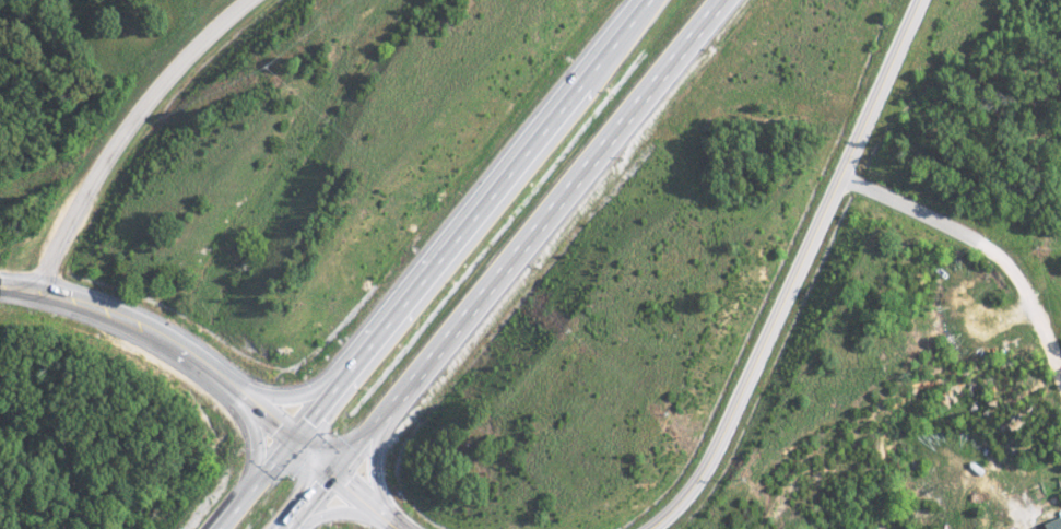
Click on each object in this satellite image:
road: (120, 132)
road: (982, 244)
road: (500, 263)
road: (439, 264)
road: (799, 275)
road: (184, 346)
traffic signals: (298, 438)
traffic signals: (334, 470)
road: (367, 501)
building: (1053, 524)

